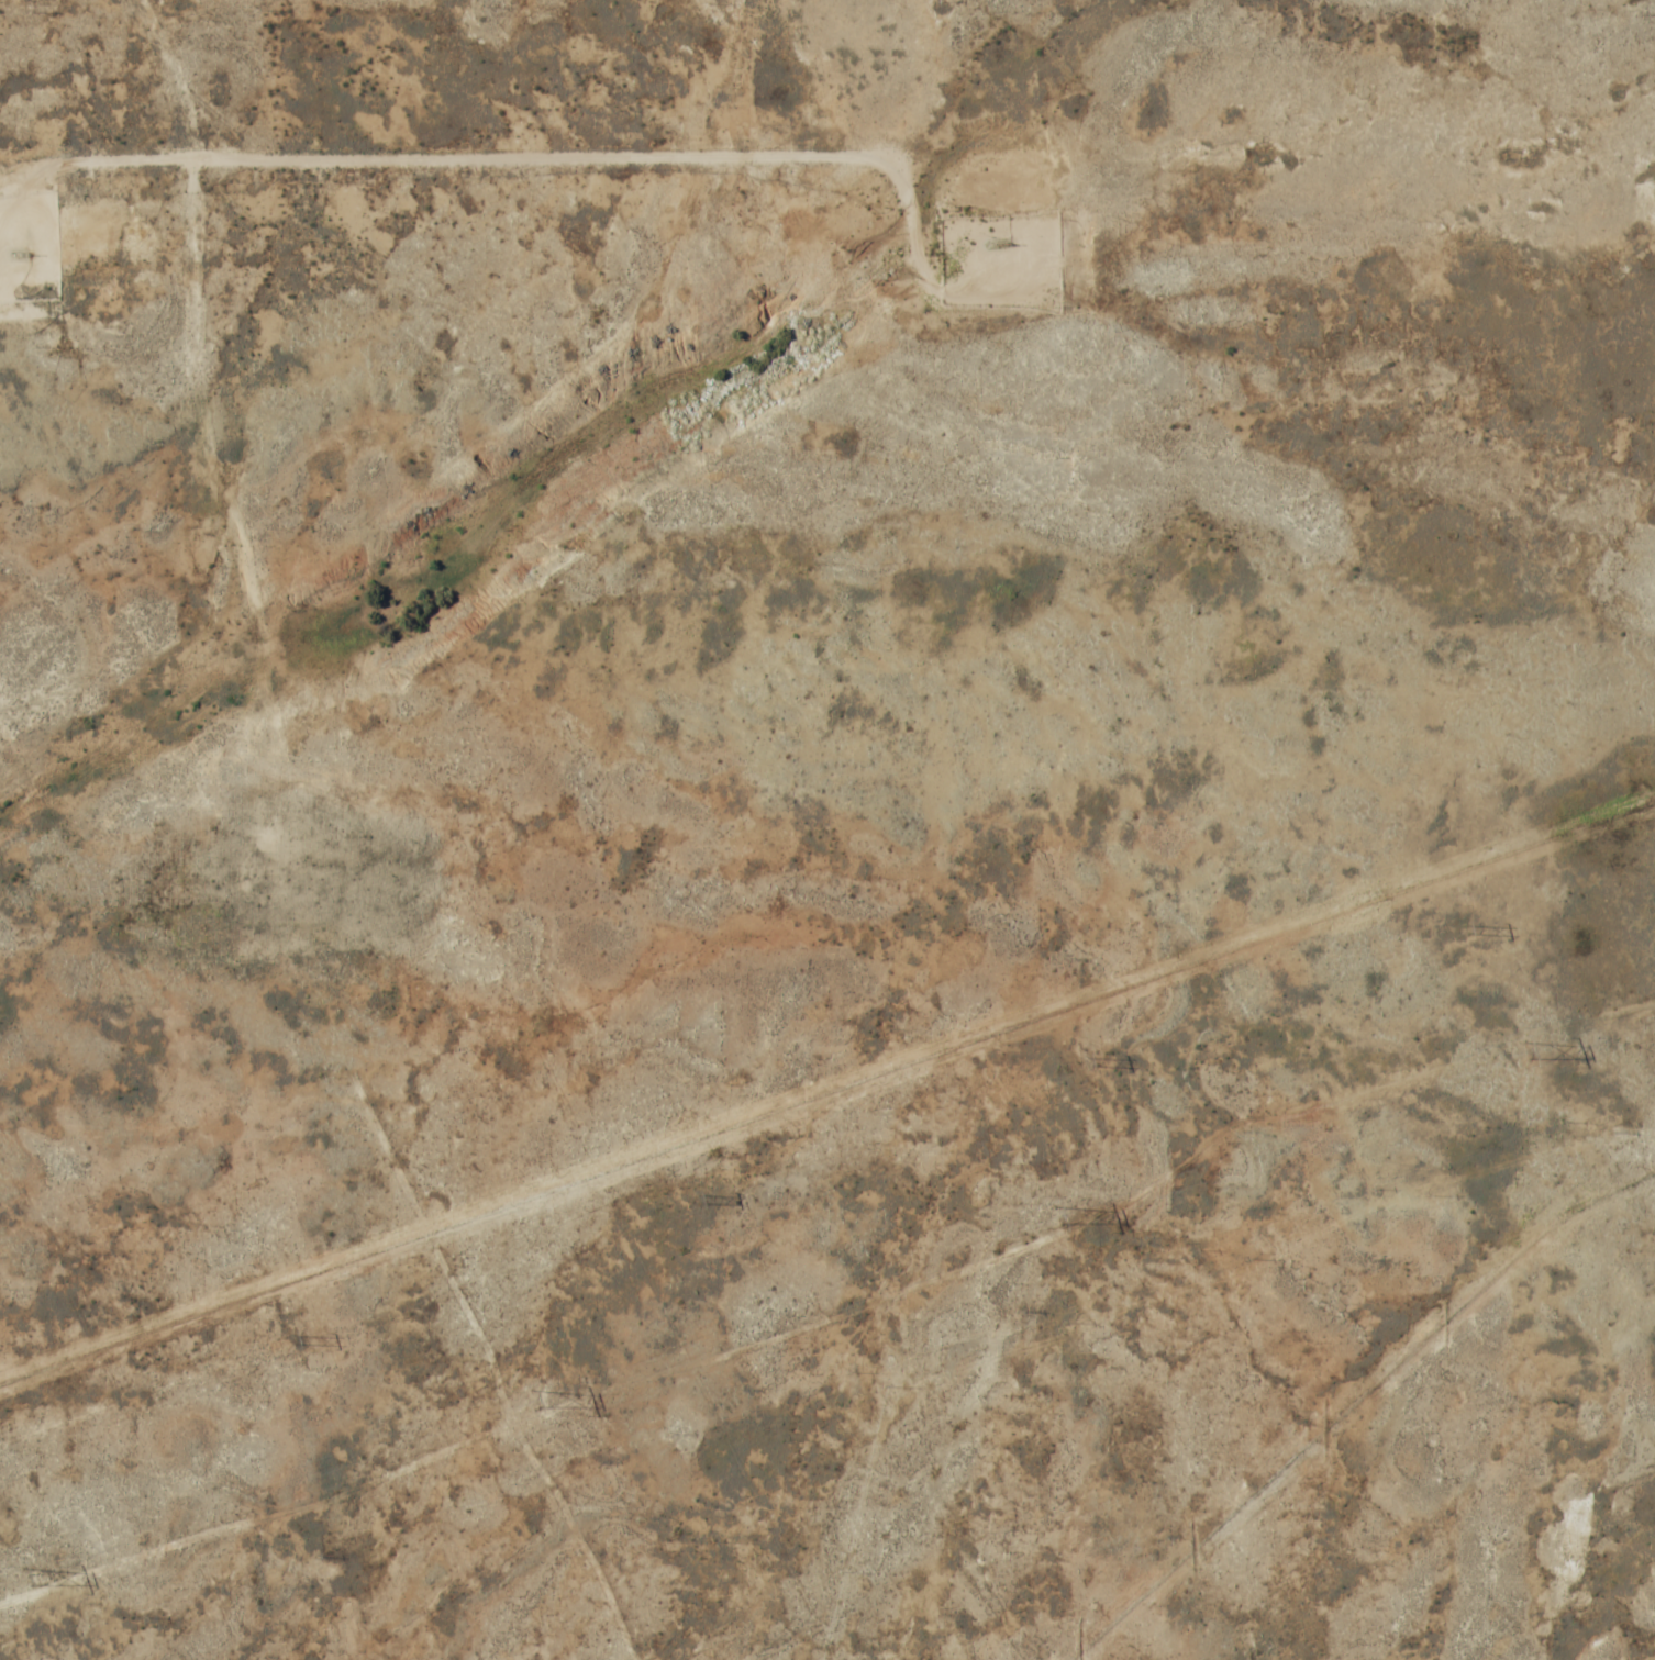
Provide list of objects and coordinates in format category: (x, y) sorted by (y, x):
road: (530, 163)
power tower: (1466, 931)
power tower: (1533, 1048)
power tower: (1088, 1063)
power tower: (698, 1201)
power tower: (1060, 1214)
power tower: (296, 1341)
power tower: (536, 1401)
power tower: (30, 1573)

